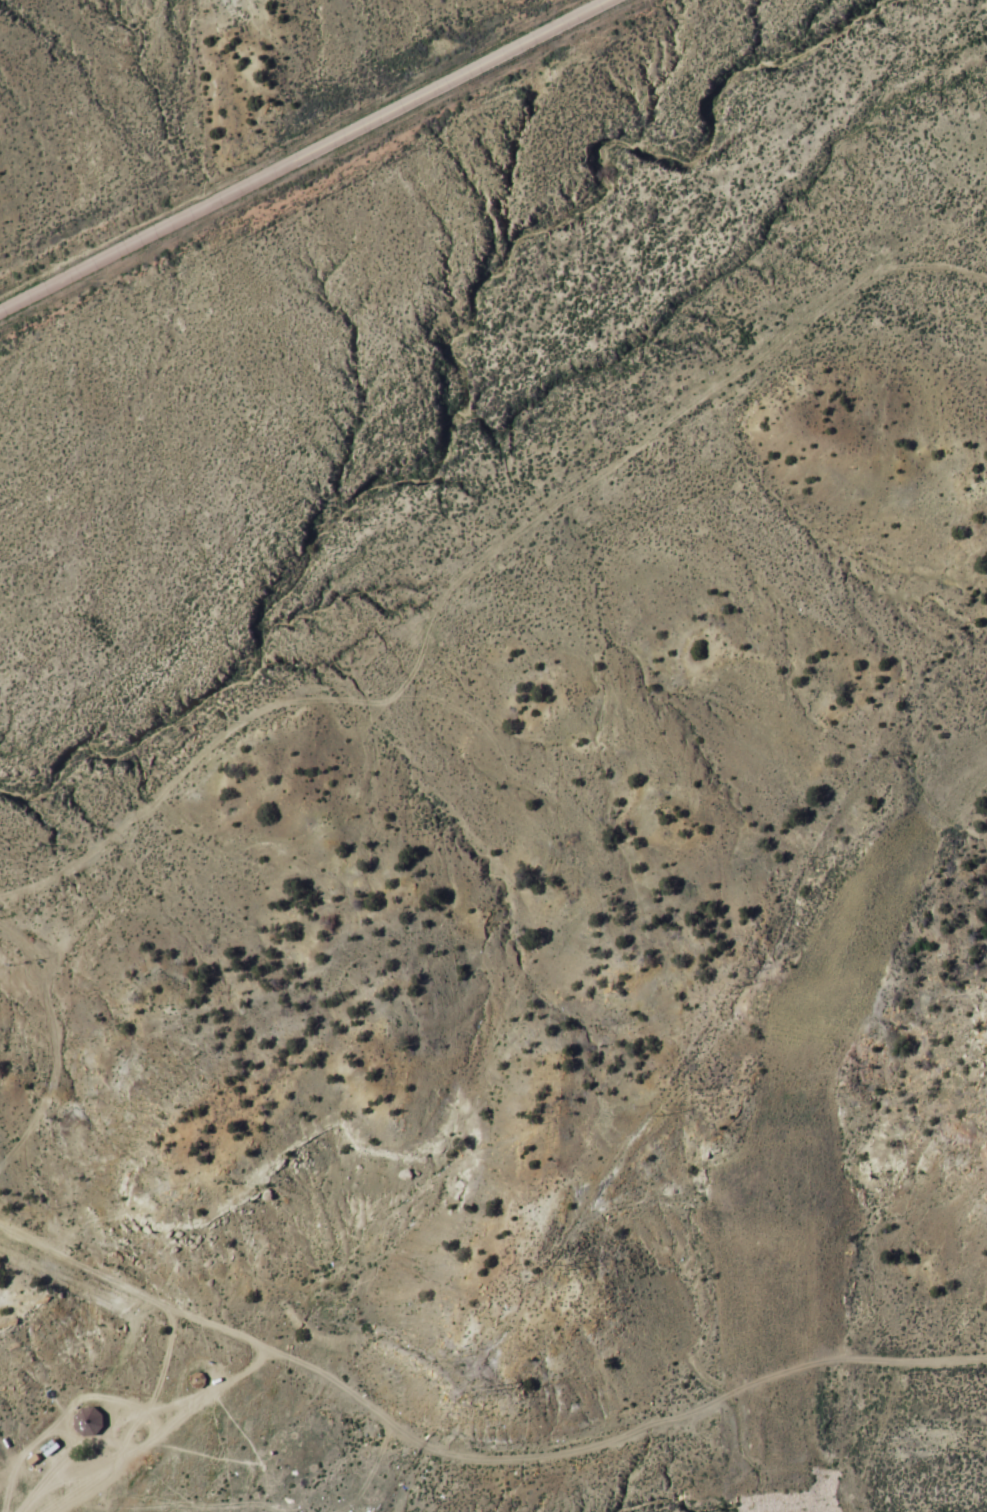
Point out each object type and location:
road: (304, 156)
railway: (968, 779)
railway: (842, 947)
railway: (778, 1181)
road: (120, 1357)
railway: (783, 1376)
building: (89, 1421)
building: (51, 1447)

